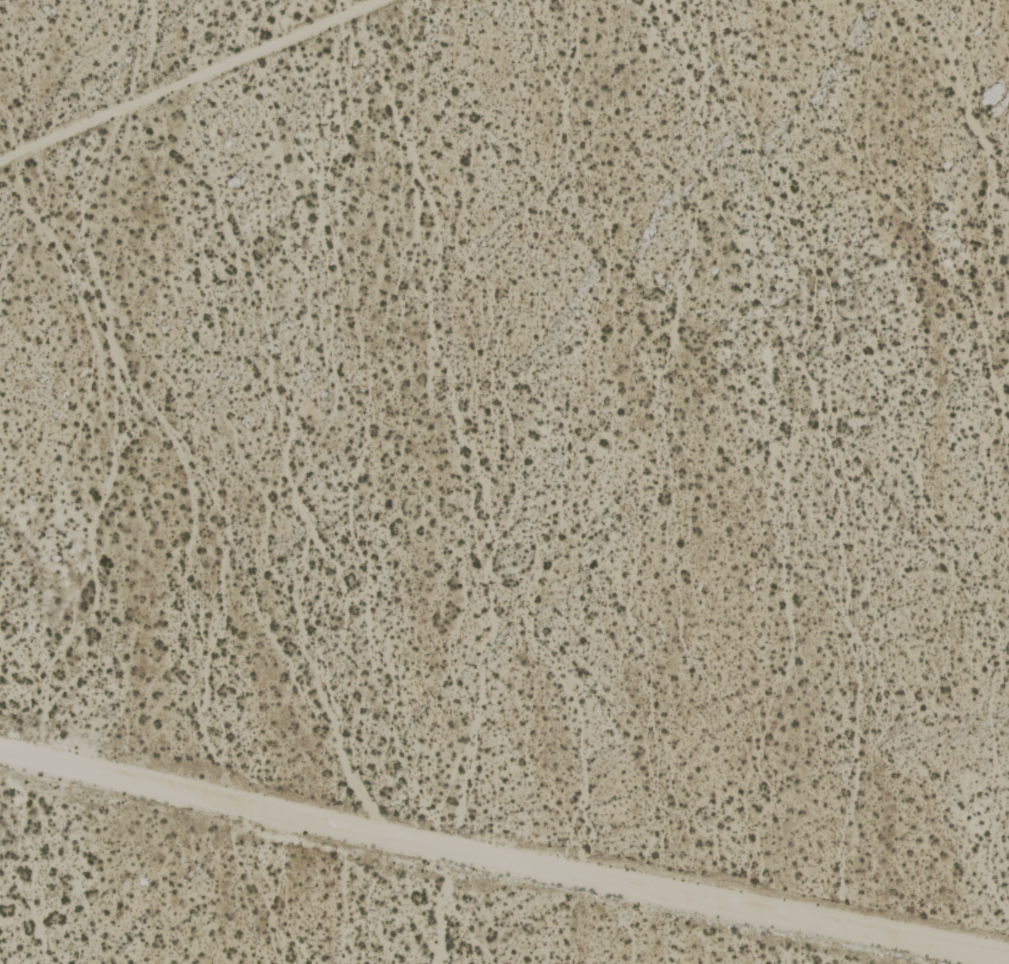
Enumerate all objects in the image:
road: (192, 80)
road: (503, 854)

